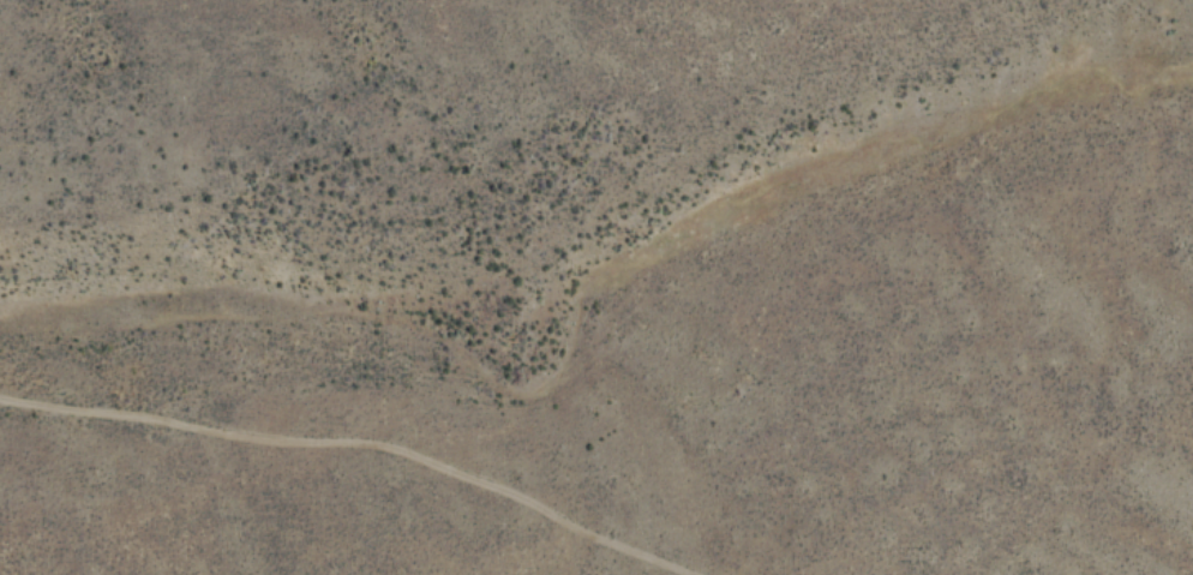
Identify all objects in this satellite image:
road: (358, 442)

